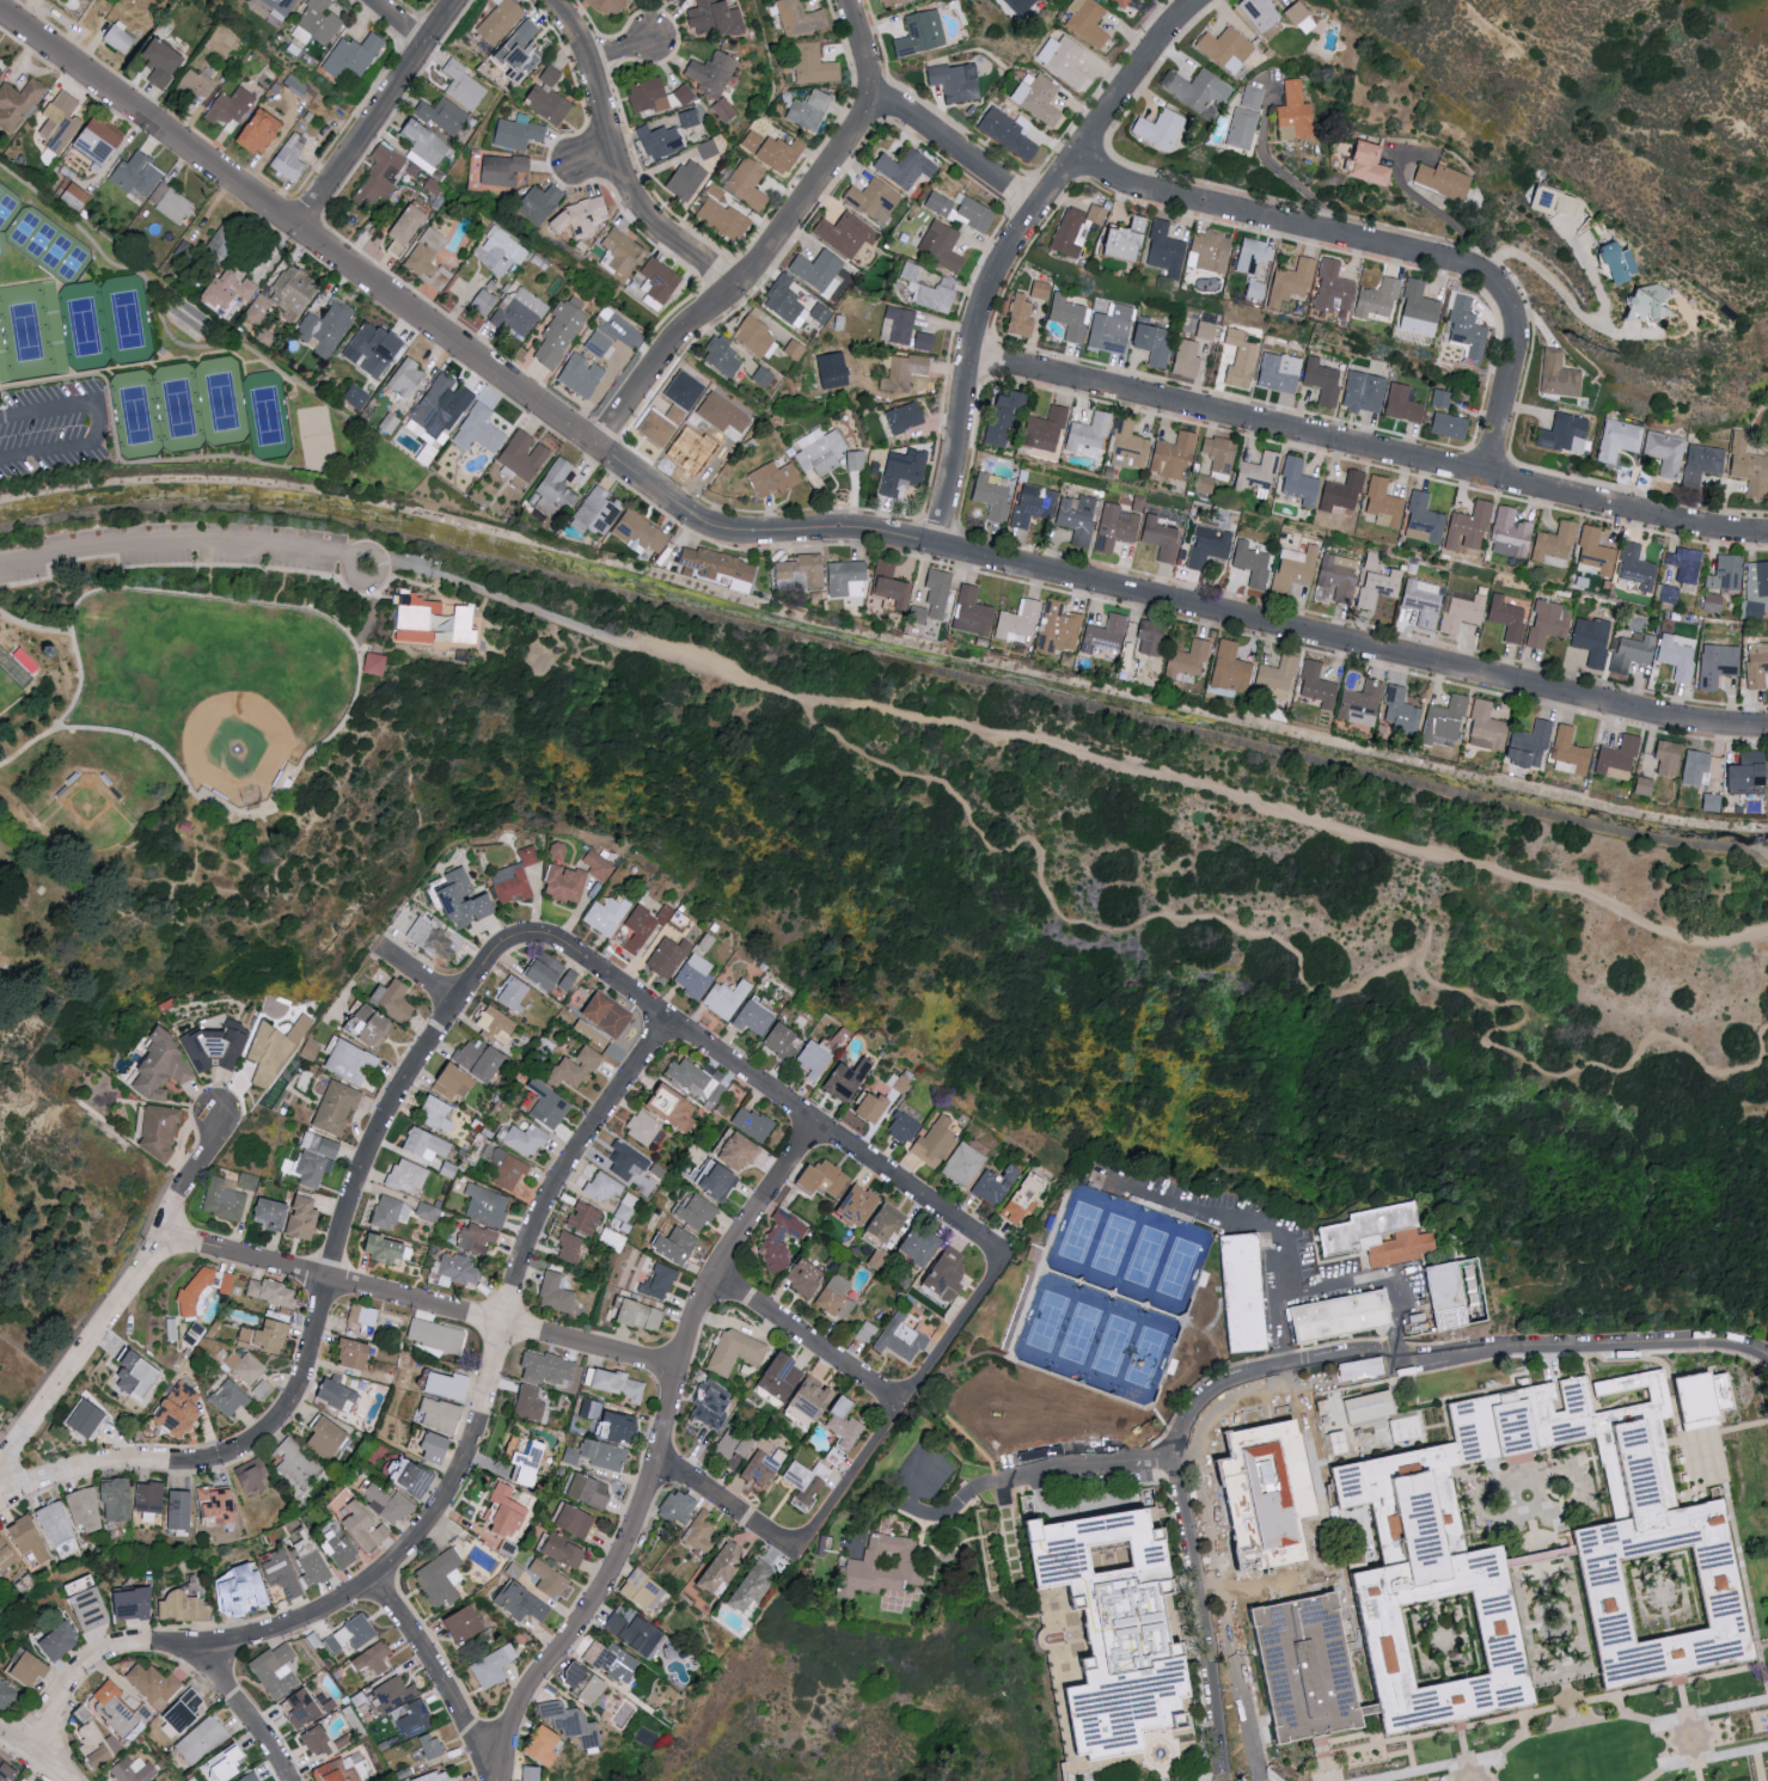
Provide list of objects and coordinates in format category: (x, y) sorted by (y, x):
building: (678, 0)
building: (891, 2)
building: (1122, 2)
building: (1018, 5)
building: (612, 6)
building: (281, 7)
building: (1259, 16)
building: (717, 17)
building: (1296, 17)
building: (800, 18)
building: (502, 19)
road: (399, 22)
building: (1088, 22)
building: (317, 23)
building: (923, 33)
building: (121, 37)
road: (72, 39)
building: (1223, 48)
building: (524, 50)
road: (622, 50)
building: (0, 56)
building: (353, 56)
building: (1063, 60)
building: (164, 62)
building: (814, 65)
building: (0, 69)
building: (714, 73)
building: (551, 75)
building: (958, 81)
building: (196, 85)
building: (464, 85)
building: (1194, 87)
building: (657, 94)
building: (1250, 97)
building: (1039, 98)
park: (1641, 100)
building: (17, 103)
building: (551, 104)
building: (232, 105)
building: (726, 109)
building: (1292, 109)
building: (810, 110)
road: (375, 111)
building: (443, 116)
building: (690, 118)
building: (62, 121)
building: (1155, 128)
building: (1238, 128)
building: (263, 131)
building: (519, 133)
building: (1009, 133)
building: (103, 140)
building: (662, 141)
building: (754, 141)
building: (427, 147)
building: (709, 149)
road: (959, 151)
building: (782, 153)
building: (290, 157)
road: (595, 159)
building: (1364, 161)
road: (619, 164)
building: (907, 167)
building: (504, 169)
building: (137, 175)
building: (380, 176)
building: (689, 178)
building: (1439, 179)
building: (750, 183)
road: (1293, 183)
building: (875, 200)
building: (171, 202)
building: (1552, 202)
park: (2, 203)
building: (542, 203)
building: (941, 203)
road: (1433, 210)
building: (977, 214)
building: (585, 215)
building: (1094, 215)
building: (726, 218)
building: (408, 228)
building: (846, 233)
building: (1117, 240)
building: (224, 243)
road: (779, 243)
building: (942, 245)
road: (1015, 245)
park: (48, 247)
road: (1384, 249)
building: (1162, 250)
building: (1209, 250)
building: (623, 251)
building: (500, 252)
building: (1250, 255)
building: (429, 257)
building: (1610, 263)
building: (818, 269)
building: (1290, 281)
road: (26, 282)
building: (659, 282)
building: (232, 288)
building: (929, 288)
building: (1329, 288)
building: (1038, 289)
building: (1254, 289)
building: (287, 294)
building: (1375, 298)
building: (484, 301)
building: (787, 301)
building: (1415, 310)
road: (1577, 311)
building: (522, 313)
road: (159, 316)
building: (1017, 317)
building: (1067, 317)
park: (127, 322)
building: (898, 324)
park: (82, 328)
building: (326, 328)
building: (1464, 328)
building: (1108, 329)
building: (562, 331)
building: (755, 332)
park: (25, 333)
building: (928, 342)
building: (600, 343)
building: (1151, 343)
building: (375, 349)
building: (795, 349)
building: (724, 356)
building: (1183, 356)
building: (1236, 357)
road: (134, 366)
building: (907, 368)
building: (1277, 372)
building: (583, 374)
building: (1555, 374)
building: (409, 378)
building: (1319, 381)
building: (1359, 392)
building: (359, 397)
building: (1438, 399)
park: (222, 403)
building: (1400, 403)
building: (443, 404)
park: (178, 409)
building: (724, 414)
park: (136, 416)
park: (267, 417)
building: (906, 417)
building: (999, 417)
building: (662, 424)
building: (1445, 424)
road: (97, 426)
building: (481, 429)
building: (1041, 429)
parking lot: (53, 432)
building: (1085, 435)
building: (1617, 439)
park: (316, 440)
building: (821, 451)
road: (1370, 451)
building: (1663, 452)
building: (702, 454)
building: (1169, 454)
building: (522, 458)
road: (185, 460)
building: (857, 460)
building: (1701, 463)
building: (1748, 470)
building: (904, 471)
building: (1253, 471)
building: (775, 478)
building: (1296, 482)
building: (556, 488)
building: (989, 494)
building: (1339, 495)
building: (1379, 502)
building: (1030, 504)
building: (600, 509)
building: (1075, 518)
building: (1420, 518)
building: (1466, 525)
building: (1113, 527)
road: (810, 531)
building: (642, 532)
building: (1507, 533)
building: (1157, 538)
road: (183, 540)
building: (1206, 545)
building: (1552, 545)
parking lot: (175, 551)
building: (1591, 557)
building: (1249, 563)
building: (1682, 564)
building: (1292, 568)
building: (1633, 568)
building: (801, 571)
building: (1725, 571)
building: (848, 579)
building: (1377, 587)
building: (1755, 588)
building: (897, 590)
building: (932, 601)
building: (1421, 601)
road: (371, 608)
building: (968, 612)
building: (1461, 612)
building: (0, 614)
building: (1504, 618)
building: (1015, 619)
building: (435, 622)
building: (1546, 623)
building: (1057, 629)
building: (1102, 635)
building: (1146, 637)
building: (1589, 639)
building: (1629, 653)
building: (1676, 655)
building: (1183, 659)
building: (1755, 662)
building: (377, 663)
building: (1714, 665)
building: (1226, 667)
building: (1273, 678)
road: (79, 683)
building: (1313, 687)
park: (214, 688)
park: (10, 697)
road: (353, 700)
building: (1357, 705)
building: (1397, 710)
building: (1443, 714)
building: (1482, 728)
building: (1524, 746)
building: (1566, 749)
road: (1067, 753)
park: (222, 754)
building: (1614, 757)
building: (1664, 757)
building: (1691, 766)
building: (1741, 773)
building: (1639, 785)
building: (1707, 802)
park: (86, 818)
building: (559, 851)
road: (1762, 852)
building: (528, 856)
building: (599, 865)
building: (565, 882)
building: (513, 883)
building: (466, 899)
park: (1199, 914)
building: (607, 916)
building: (644, 925)
building: (430, 936)
building: (668, 956)
building: (553, 973)
building: (695, 975)
road: (426, 979)
road: (1304, 980)
building: (514, 993)
building: (727, 998)
building: (394, 999)
building: (610, 1015)
building: (753, 1018)
building: (372, 1024)
building: (497, 1024)
building: (782, 1040)
building: (215, 1046)
building: (273, 1051)
building: (482, 1058)
building: (815, 1059)
building: (351, 1061)
building: (163, 1066)
building: (580, 1066)
building: (852, 1077)
building: (697, 1081)
building: (454, 1082)
road: (764, 1085)
building: (550, 1103)
building: (876, 1104)
building: (338, 1106)
building: (675, 1106)
building: (439, 1113)
building: (754, 1122)
building: (644, 1127)
building: (905, 1127)
building: (161, 1130)
building: (528, 1139)
building: (936, 1140)
building: (428, 1144)
building: (739, 1149)
building: (317, 1159)
building: (628, 1159)
building: (965, 1163)
building: (506, 1165)
building: (408, 1175)
building: (827, 1177)
park: (2, 1180)
building: (718, 1181)
building: (996, 1185)
building: (604, 1187)
building: (225, 1199)
building: (1026, 1200)
building: (628, 1202)
building: (488, 1205)
building: (862, 1205)
building: (391, 1211)
building: (698, 1211)
building: (276, 1213)
building: (306, 1217)
building: (586, 1217)
building: (891, 1224)
road: (1252, 1229)
building: (1360, 1229)
building: (478, 1236)
building: (674, 1240)
building: (781, 1240)
building: (924, 1244)
building: (389, 1247)
building: (570, 1247)
building: (1403, 1248)
building: (460, 1268)
building: (949, 1274)
building: (806, 1275)
road: (1382, 1279)
building: (659, 1281)
building: (227, 1283)
building: (196, 1291)
building: (274, 1291)
building: (557, 1292)
building: (1242, 1293)
building: (1451, 1295)
building: (837, 1296)
park: (1108, 1296)
road: (120, 1298)
road: (421, 1299)
road: (323, 1309)
building: (643, 1314)
building: (365, 1317)
building: (1341, 1320)
building: (868, 1330)
building: (268, 1334)
building: (438, 1334)
building: (903, 1338)
road: (814, 1341)
road: (1587, 1349)
building: (736, 1351)
building: (357, 1352)
road: (1385, 1365)
building: (245, 1366)
building: (140, 1375)
building: (784, 1375)
road: (1258, 1375)
building: (622, 1383)
building: (449, 1384)
building: (262, 1389)
building: (339, 1393)
road: (1274, 1394)
building: (231, 1397)
building: (818, 1397)
building: (530, 1403)
building: (714, 1404)
building: (1374, 1406)
building: (182, 1408)
road: (907, 1408)
building: (443, 1414)
building: (90, 1416)
building: (0, 1424)
building: (620, 1426)
building: (1407, 1427)
building: (845, 1428)
building: (329, 1438)
building: (1338, 1442)
road: (1560, 1445)
building: (440, 1446)
building: (733, 1448)
road: (660, 1452)
building: (607, 1453)
building: (296, 1463)
building: (531, 1464)
road: (1115, 1464)
building: (763, 1467)
building: (253, 1475)
building: (415, 1475)
building: (807, 1482)
building: (593, 1489)
building: (152, 1495)
road: (449, 1497)
building: (118, 1499)
building: (221, 1502)
building: (389, 1502)
road: (958, 1505)
building: (680, 1506)
building: (85, 1508)
building: (182, 1508)
building: (510, 1511)
road: (732, 1511)
road: (1073, 1513)
building: (580, 1520)
building: (366, 1526)
building: (57, 1529)
building: (699, 1531)
building: (29, 1540)
road: (1334, 1542)
road: (1016, 1547)
building: (341, 1549)
building: (568, 1549)
building: (7, 1555)
building: (886, 1565)
building: (723, 1566)
building: (1494, 1574)
building: (442, 1577)
building: (551, 1579)
building: (754, 1586)
building: (644, 1587)
building: (243, 1589)
building: (521, 1601)
building: (88, 1603)
building: (130, 1604)
building: (184, 1606)
road: (1203, 1614)
road: (1224, 1614)
building: (469, 1623)
building: (635, 1632)
building: (353, 1633)
building: (1114, 1633)
building: (60, 1641)
road: (1763, 1648)
building: (374, 1658)
building: (611, 1659)
building: (494, 1665)
building: (29, 1669)
building: (277, 1669)
road: (1079, 1669)
road: (441, 1679)
building: (155, 1683)
building: (589, 1683)
road: (1640, 1690)
building: (6, 1693)
building: (394, 1693)
building: (118, 1708)
building: (188, 1708)
building: (305, 1708)
road: (252, 1709)
building: (402, 1710)
building: (416, 1719)
road: (1576, 1731)
road: (1690, 1731)
building: (203, 1739)
road: (1328, 1739)
building: (318, 1740)
road: (1565, 1742)
building: (432, 1745)
building: (549, 1745)
road: (1464, 1751)
fountain: (1160, 1755)
road: (30, 1758)
road: (1334, 1758)
road: (1670, 1761)
building: (230, 1763)
road: (1070, 1767)
building: (349, 1768)
road: (1182, 1768)
building: (8, 1770)
building: (133, 1770)
building: (534, 1773)
building: (439, 1776)
building: (252, 1777)

